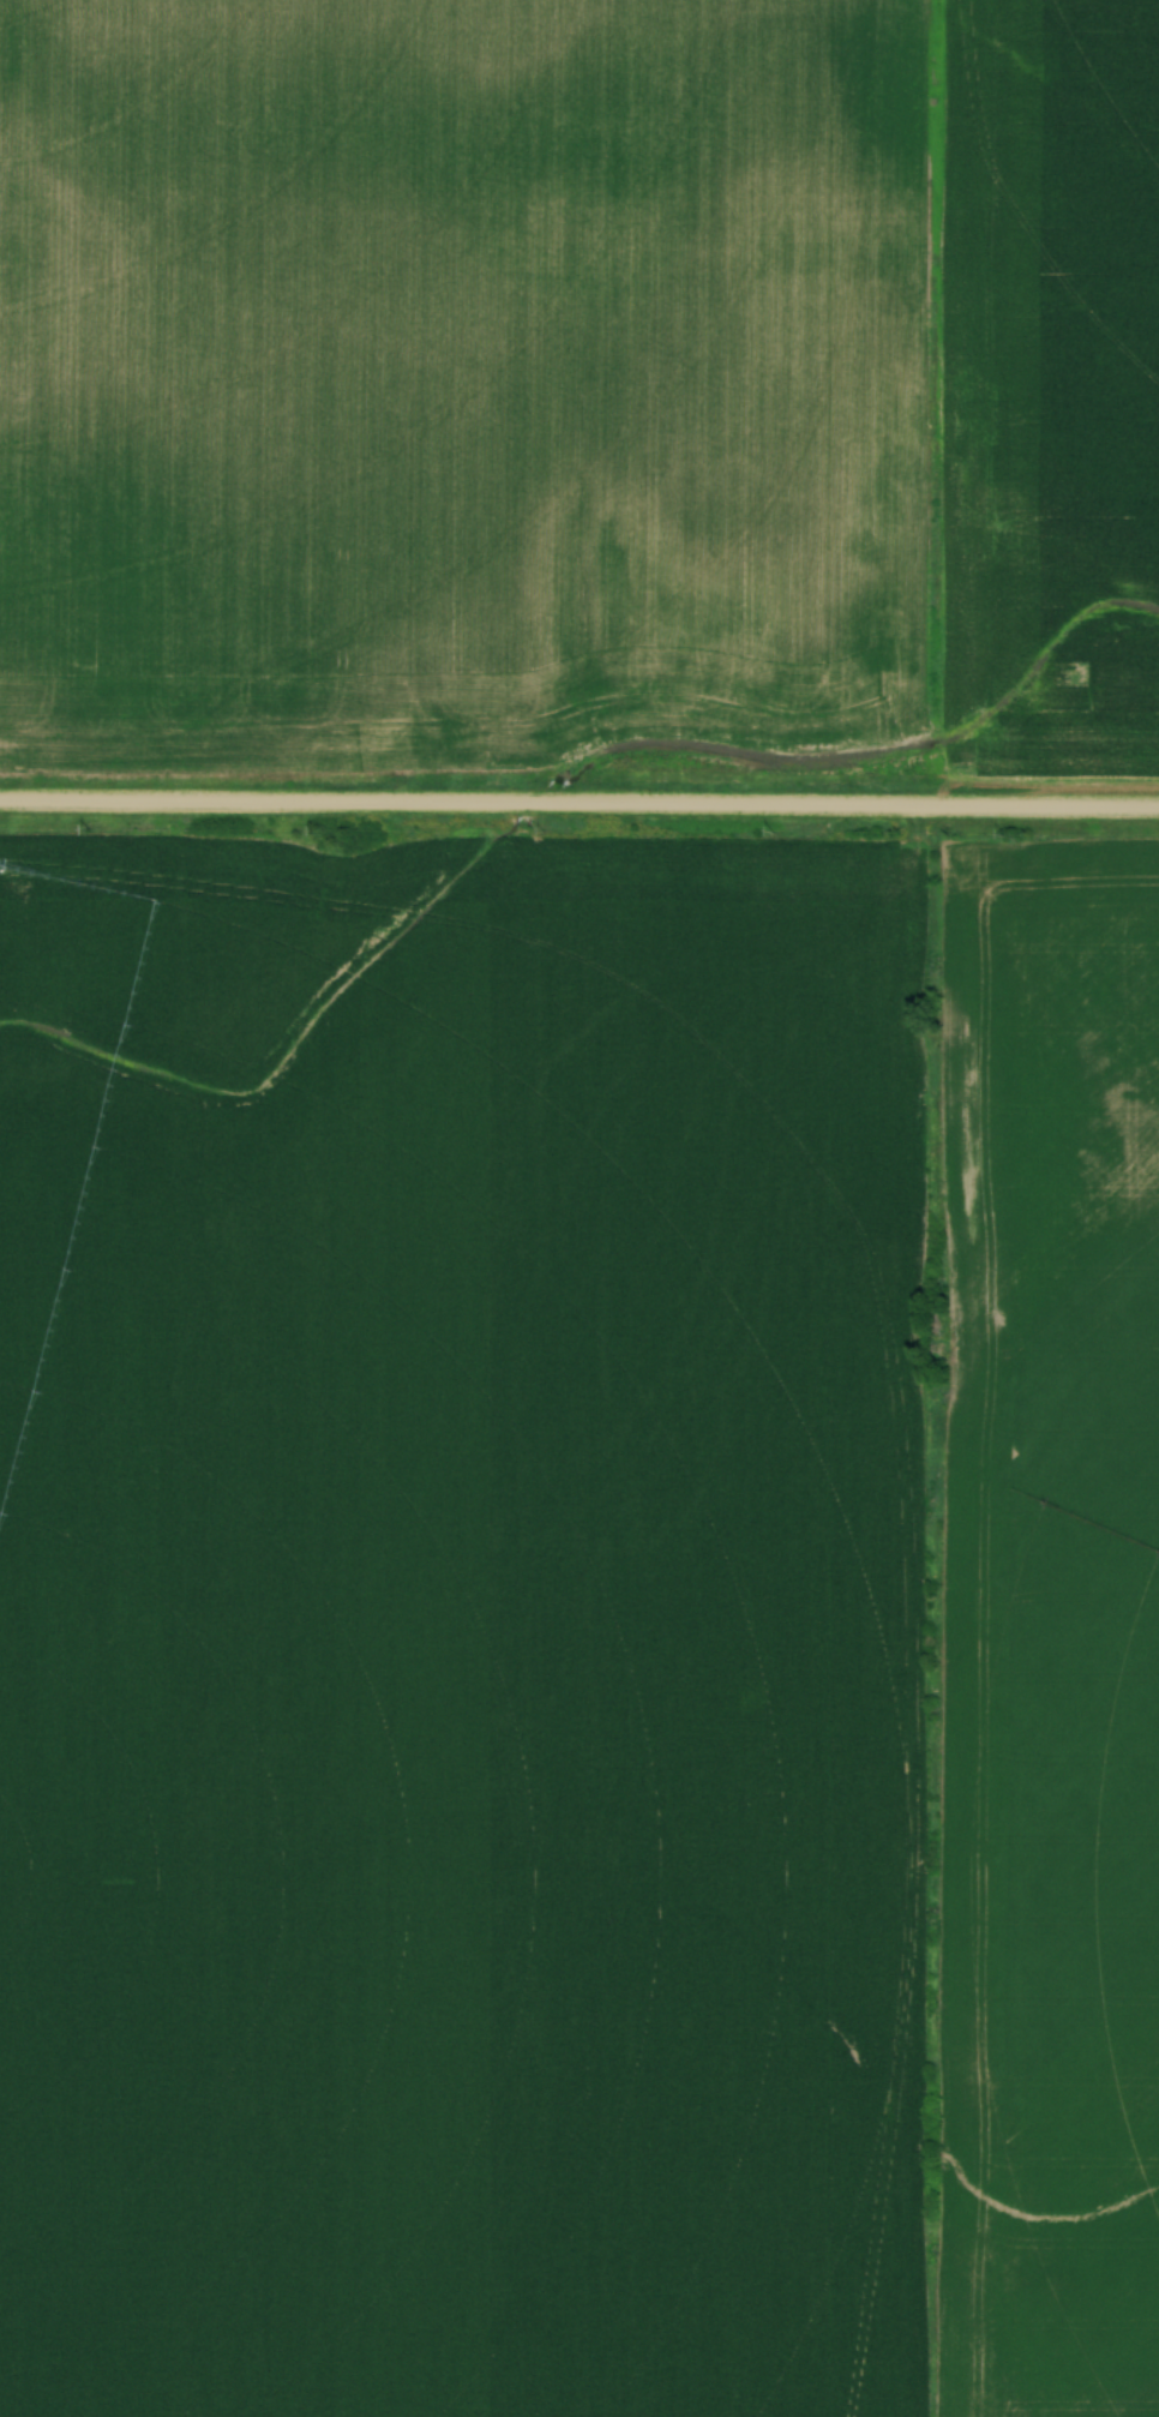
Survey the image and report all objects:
road: (578, 804)

